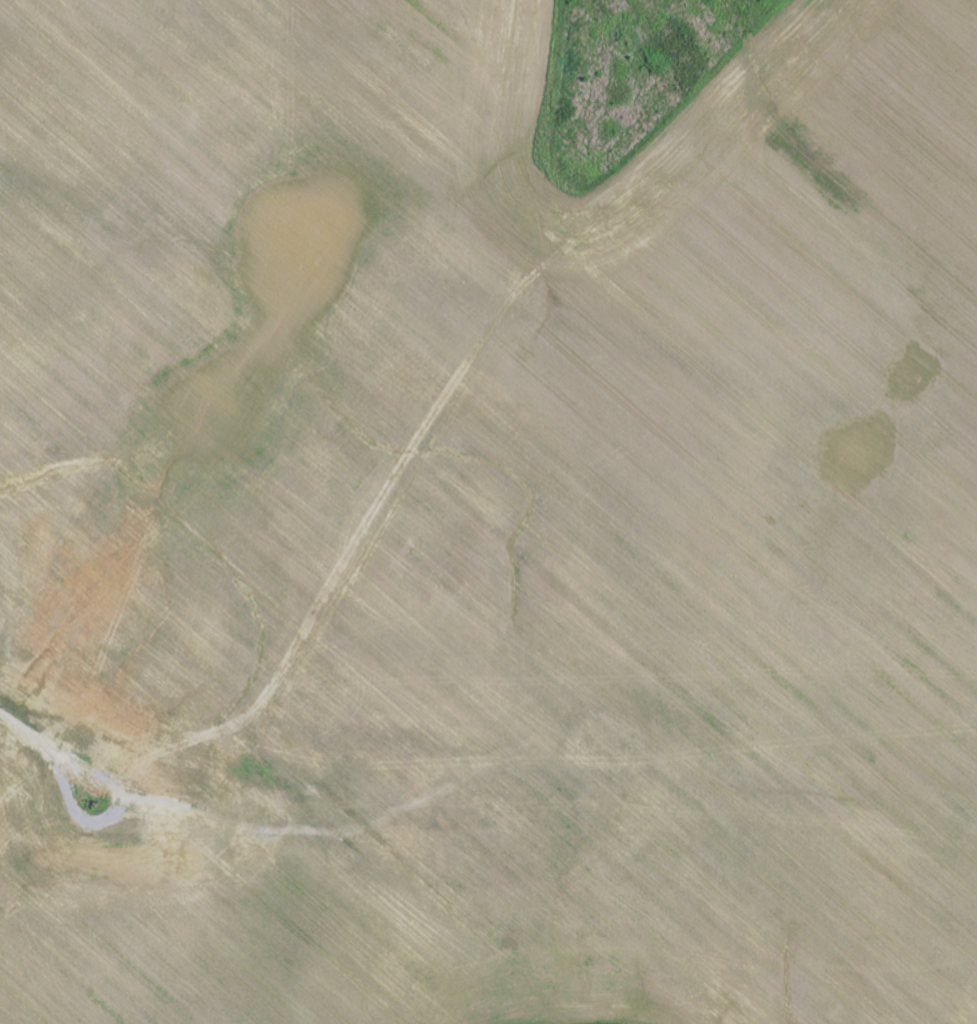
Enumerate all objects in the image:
road: (222, 818)

